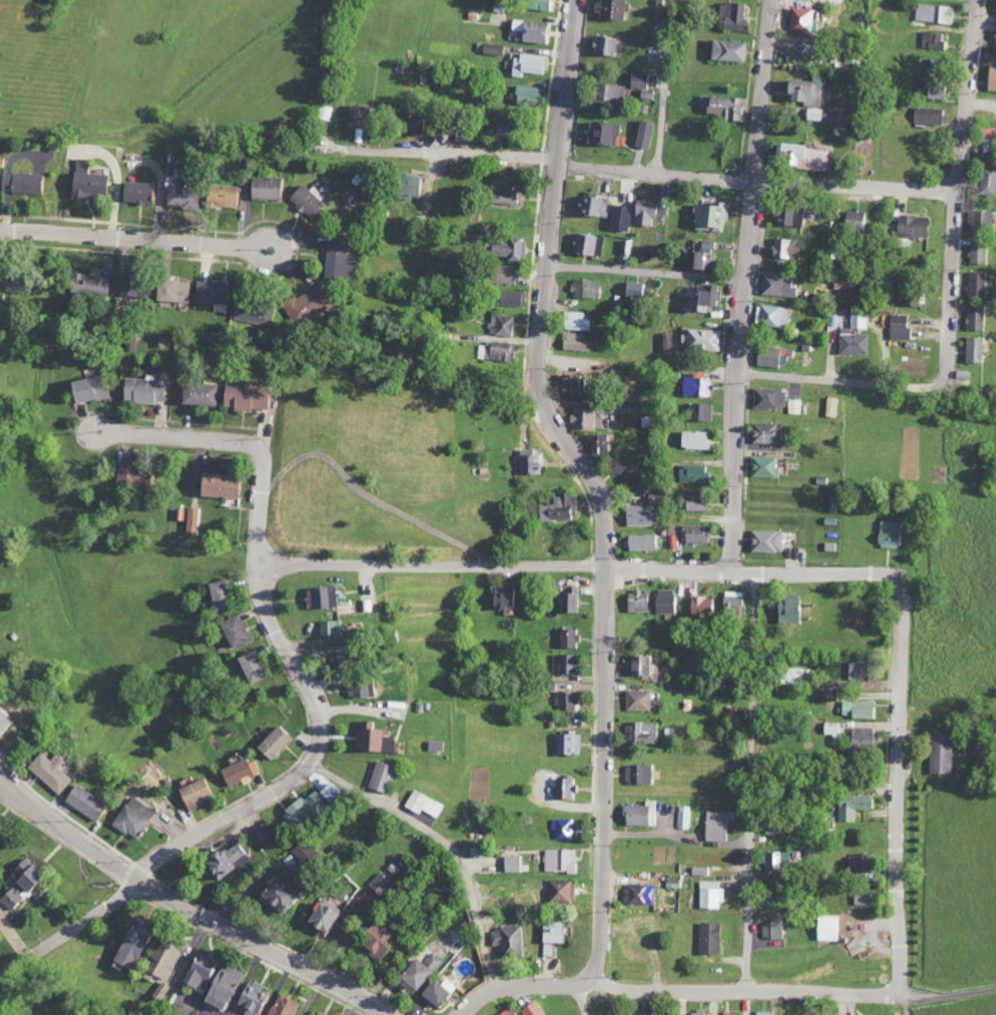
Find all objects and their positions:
building: (537, 4)
building: (995, 8)
building: (609, 9)
building: (933, 13)
building: (732, 16)
building: (800, 18)
building: (529, 30)
building: (994, 39)
building: (930, 40)
building: (603, 45)
building: (489, 48)
building: (727, 50)
building: (526, 64)
building: (991, 78)
building: (637, 80)
road: (663, 86)
building: (804, 91)
building: (933, 91)
building: (609, 93)
building: (525, 95)
building: (724, 107)
building: (324, 113)
building: (816, 114)
building: (355, 116)
building: (928, 116)
building: (411, 125)
building: (496, 127)
building: (601, 133)
building: (643, 134)
building: (986, 140)
building: (801, 156)
road: (667, 174)
building: (987, 180)
building: (20, 183)
building: (87, 184)
building: (405, 186)
building: (264, 188)
road: (959, 189)
building: (135, 192)
building: (501, 194)
building: (221, 195)
building: (178, 196)
building: (307, 201)
building: (593, 207)
building: (645, 212)
building: (788, 215)
building: (709, 216)
building: (620, 218)
building: (854, 219)
building: (979, 220)
building: (913, 226)
road: (116, 240)
building: (587, 245)
building: (706, 245)
building: (505, 249)
building: (784, 249)
building: (978, 253)
building: (339, 258)
building: (700, 260)
road: (284, 264)
road: (649, 272)
building: (501, 274)
building: (14, 281)
road: (748, 285)
building: (777, 285)
building: (976, 285)
building: (88, 286)
building: (133, 289)
building: (585, 289)
building: (633, 289)
building: (172, 290)
building: (209, 293)
building: (701, 297)
building: (511, 298)
building: (309, 305)
building: (253, 313)
building: (772, 316)
building: (975, 318)
building: (574, 321)
building: (499, 325)
building: (899, 327)
building: (700, 339)
building: (667, 341)
building: (572, 342)
building: (853, 343)
building: (973, 350)
building: (498, 351)
building: (766, 357)
building: (962, 375)
road: (842, 380)
building: (570, 383)
building: (694, 386)
building: (87, 389)
building: (143, 390)
building: (198, 394)
building: (244, 397)
building: (768, 398)
building: (794, 407)
building: (830, 407)
building: (700, 412)
building: (581, 418)
road: (96, 421)
building: (764, 433)
building: (694, 440)
road: (250, 442)
building: (598, 444)
building: (529, 463)
building: (618, 467)
building: (763, 467)
building: (692, 473)
building: (129, 476)
road: (598, 485)
building: (217, 486)
road: (376, 496)
building: (694, 502)
building: (558, 508)
building: (637, 515)
building: (191, 521)
building: (694, 534)
building: (887, 534)
building: (765, 541)
building: (642, 542)
road: (579, 568)
building: (218, 595)
building: (502, 597)
building: (320, 598)
building: (568, 601)
building: (664, 601)
building: (635, 602)
building: (731, 604)
building: (699, 606)
building: (329, 629)
building: (233, 631)
building: (568, 638)
building: (337, 659)
building: (566, 664)
building: (637, 665)
building: (250, 667)
building: (857, 671)
building: (792, 676)
building: (358, 689)
building: (827, 695)
building: (637, 700)
building: (565, 701)
building: (856, 709)
building: (3, 722)
building: (831, 729)
building: (641, 733)
building: (861, 738)
building: (373, 739)
building: (272, 743)
building: (567, 743)
building: (434, 746)
building: (938, 754)
road: (311, 759)
building: (49, 772)
building: (238, 773)
building: (638, 774)
building: (381, 777)
road: (754, 781)
road: (900, 782)
building: (565, 789)
building: (328, 792)
building: (192, 794)
building: (83, 803)
building: (422, 804)
building: (852, 806)
building: (302, 809)
building: (640, 814)
building: (684, 817)
building: (132, 819)
building: (716, 826)
building: (563, 829)
building: (260, 833)
road: (446, 842)
building: (224, 861)
building: (561, 861)
building: (775, 861)
building: (512, 864)
building: (856, 864)
building: (21, 884)
building: (379, 885)
building: (561, 892)
building: (771, 892)
building: (277, 893)
building: (638, 894)
building: (710, 895)
building: (861, 898)
road: (186, 906)
building: (321, 916)
building: (638, 927)
building: (827, 928)
road: (72, 929)
building: (771, 930)
building: (551, 936)
building: (708, 939)
building: (373, 941)
building: (507, 941)
building: (129, 944)
building: (162, 959)
building: (432, 962)
building: (198, 972)
building: (412, 976)
road: (518, 986)
building: (219, 987)
road: (739, 990)
building: (436, 992)
road: (945, 996)
building: (249, 998)
road: (585, 1000)
building: (282, 1006)
building: (532, 1009)
building: (507, 1012)
building: (643, 1013)
building: (699, 1013)
building: (761, 1013)
building: (308, 1014)
building: (672, 1014)
building: (730, 1014)

